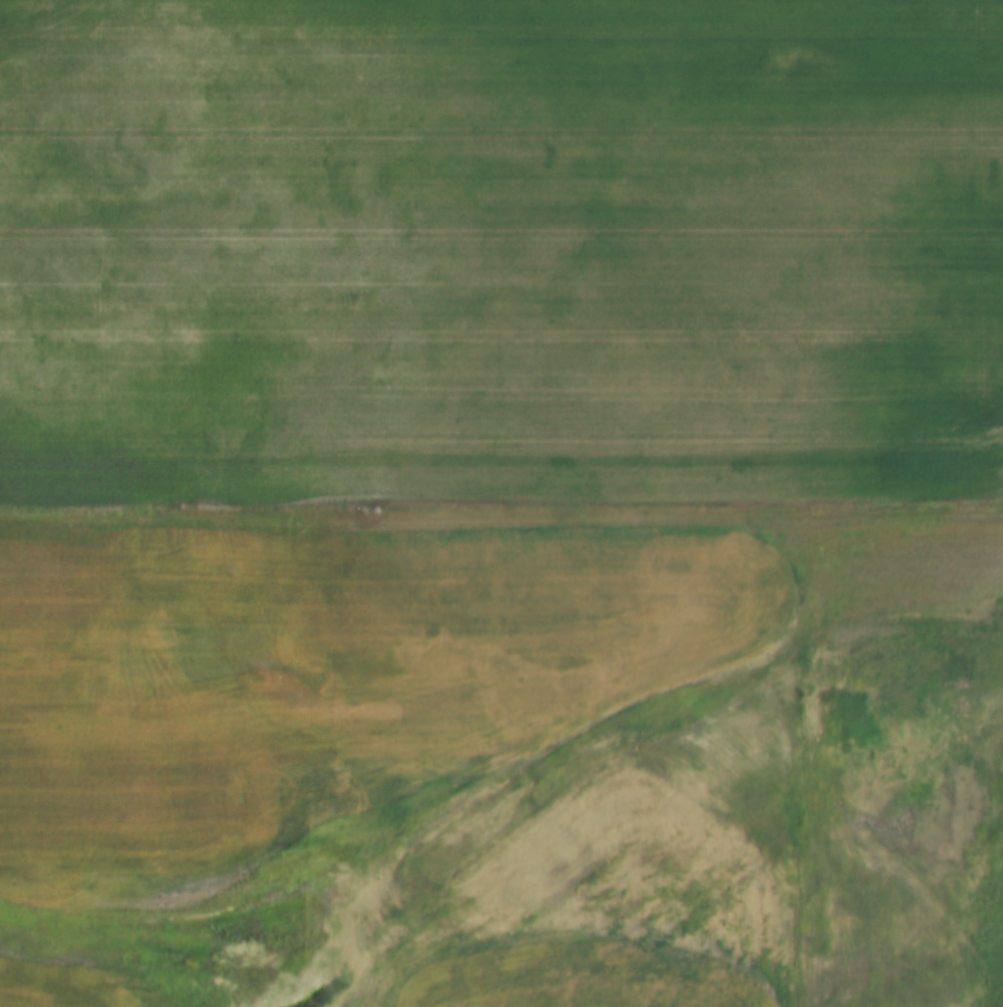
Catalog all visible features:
road: (501, 518)

